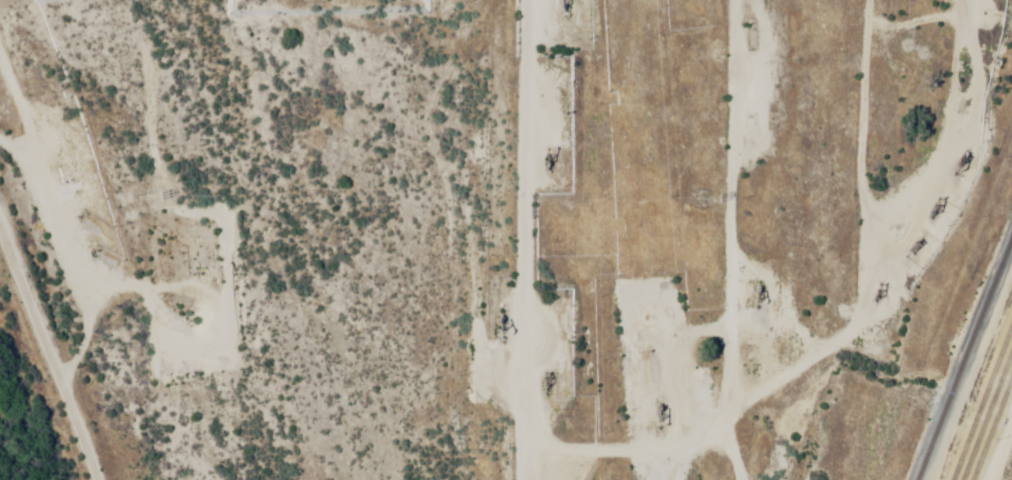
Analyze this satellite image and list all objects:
road: (486, 240)
road: (706, 305)
road: (63, 317)
railway: (965, 355)
railway: (982, 403)
railway: (987, 417)
railway: (992, 430)
road: (996, 438)

